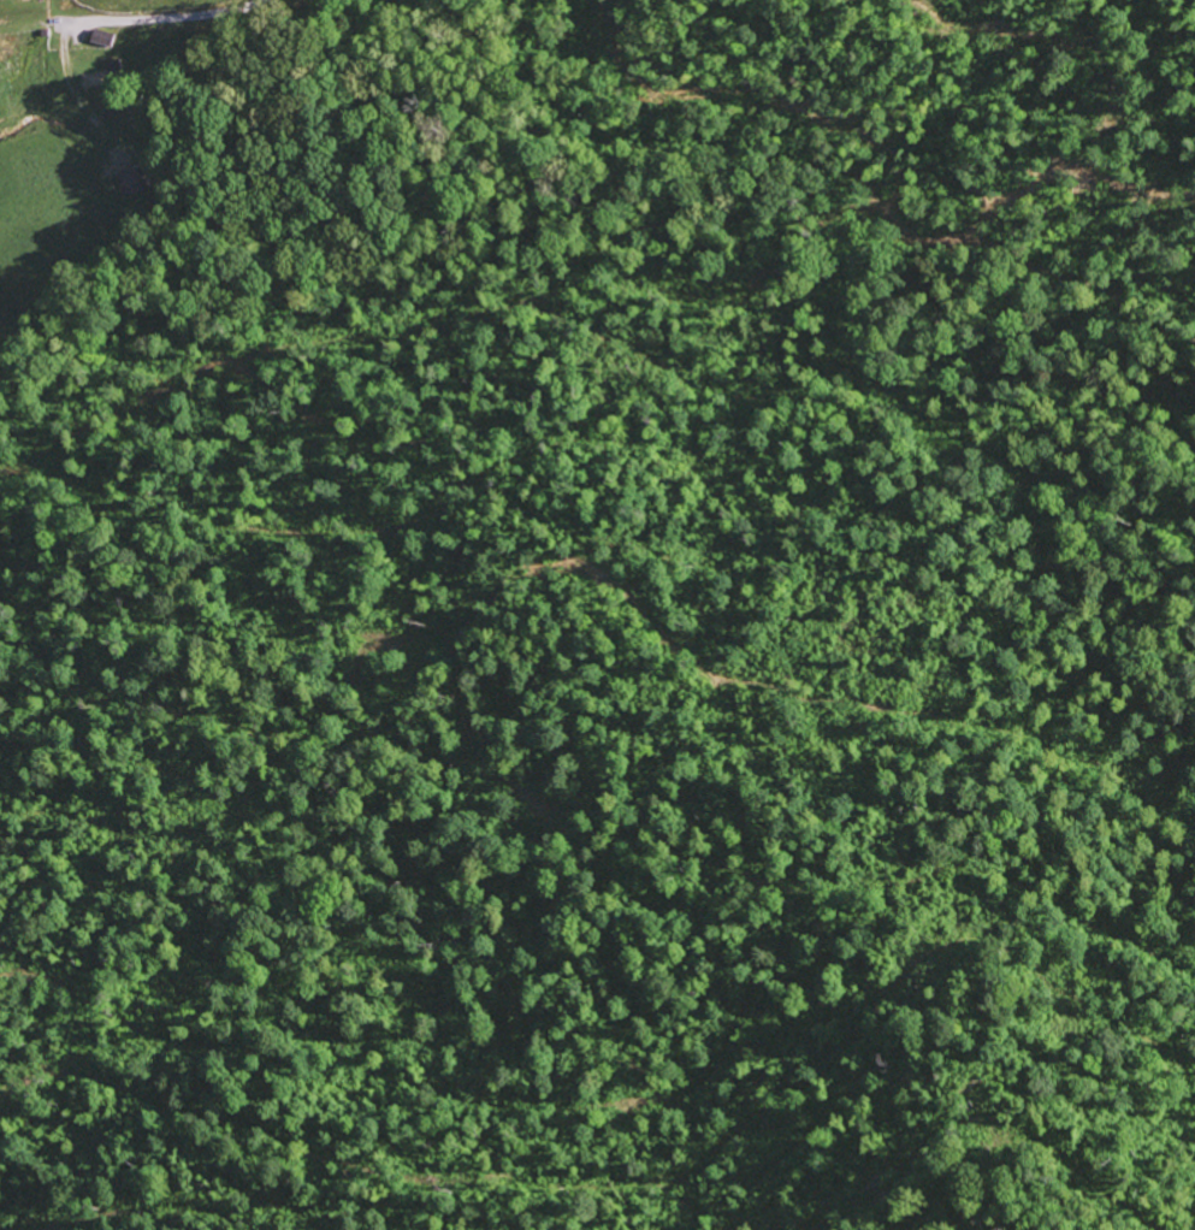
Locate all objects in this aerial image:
road: (126, 5)

